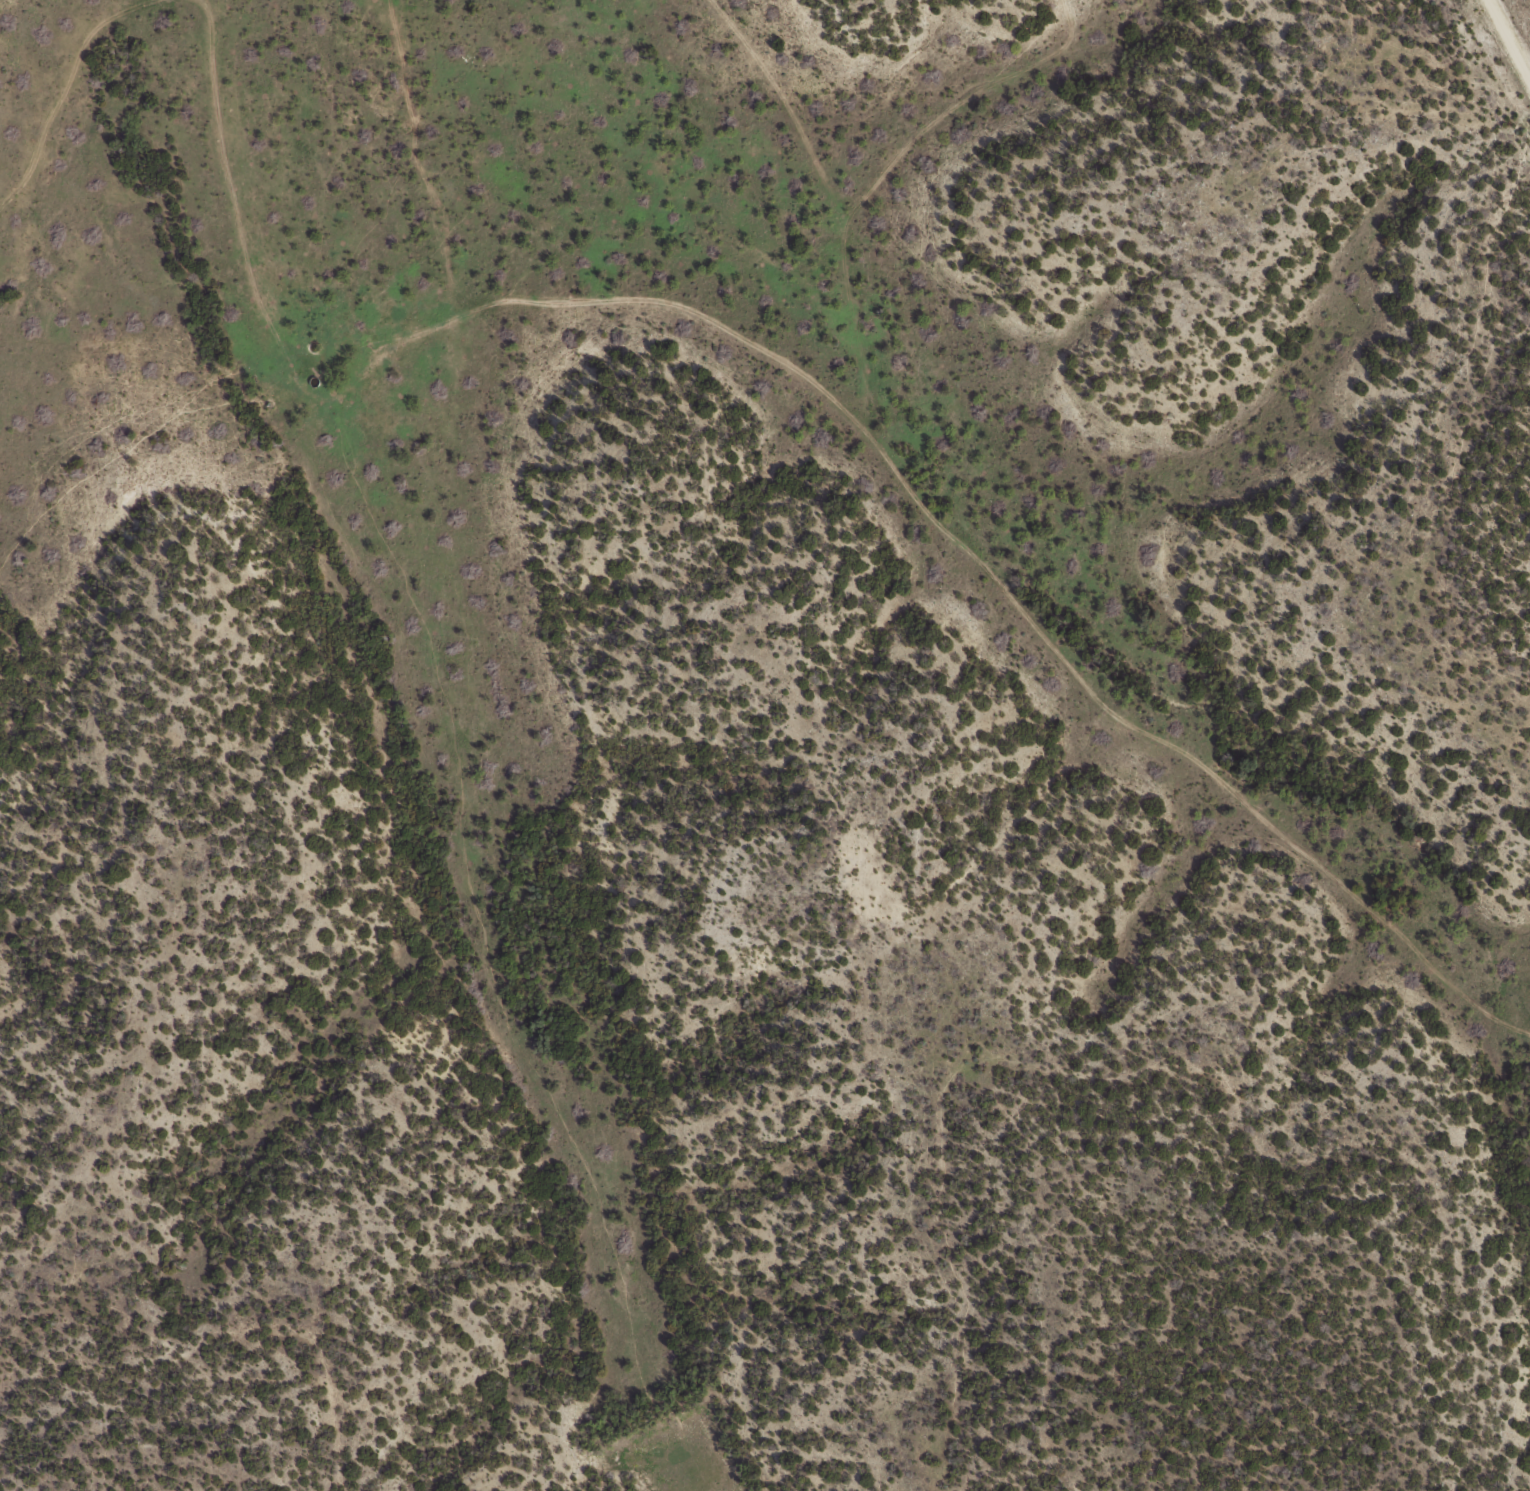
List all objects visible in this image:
road: (846, 451)

